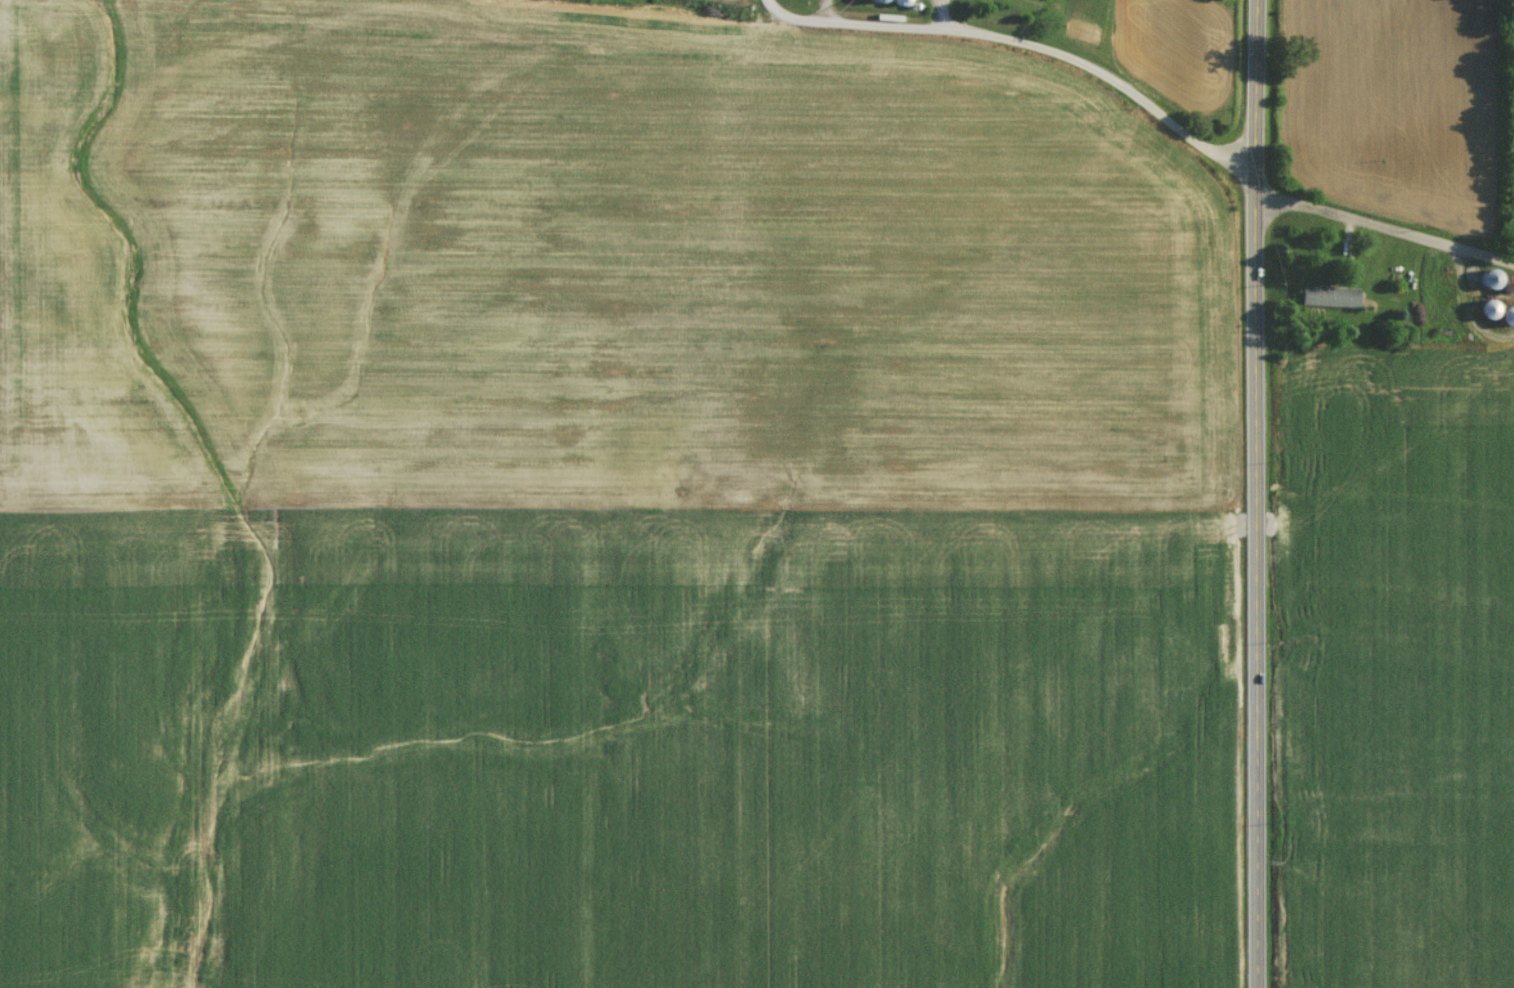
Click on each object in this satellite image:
road: (829, 12)
road: (940, 13)
road: (794, 21)
road: (1177, 122)
building: (1483, 283)
building: (1429, 292)
building: (1325, 301)
building: (1479, 313)
building: (1504, 321)
road: (1256, 493)

